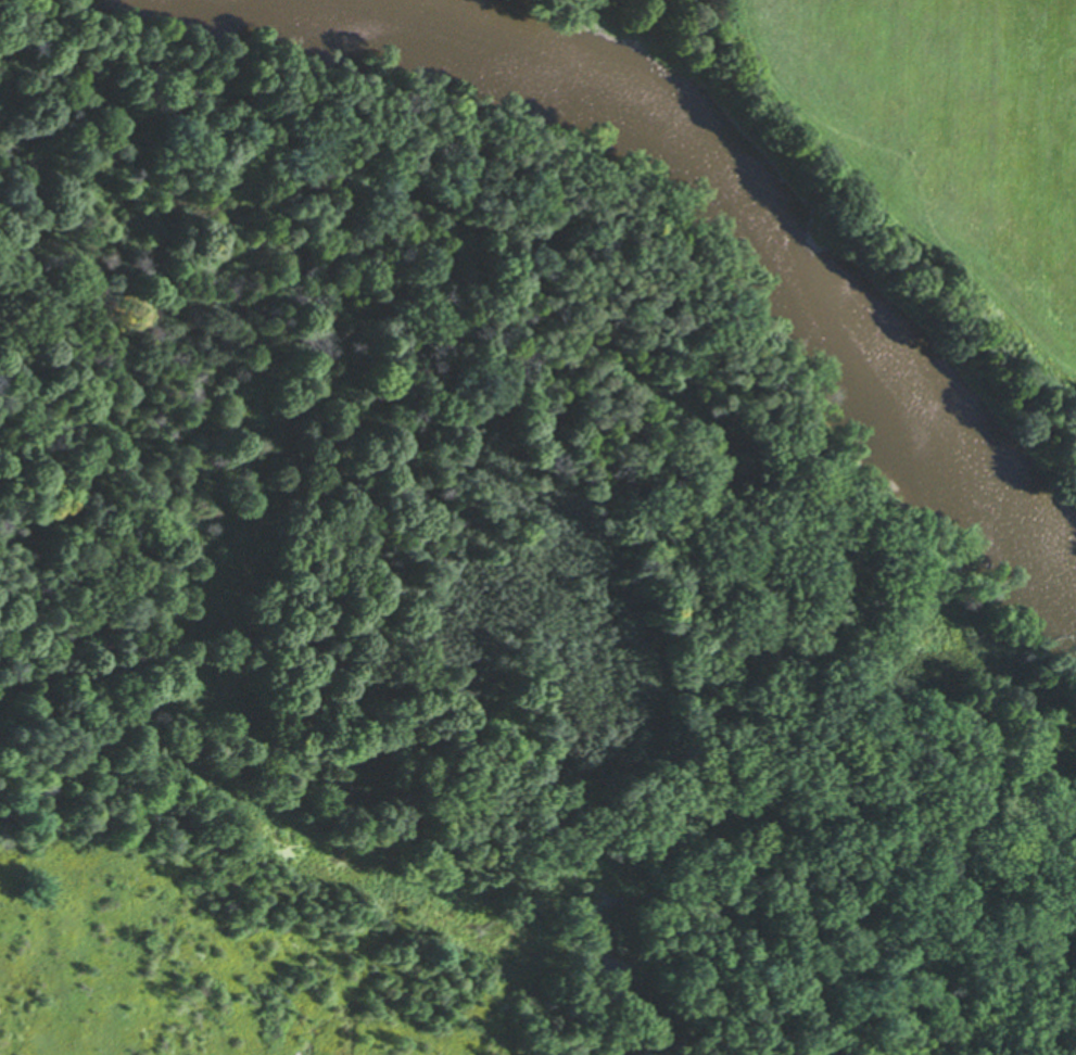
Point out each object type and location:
road: (1049, 37)
river: (739, 240)

